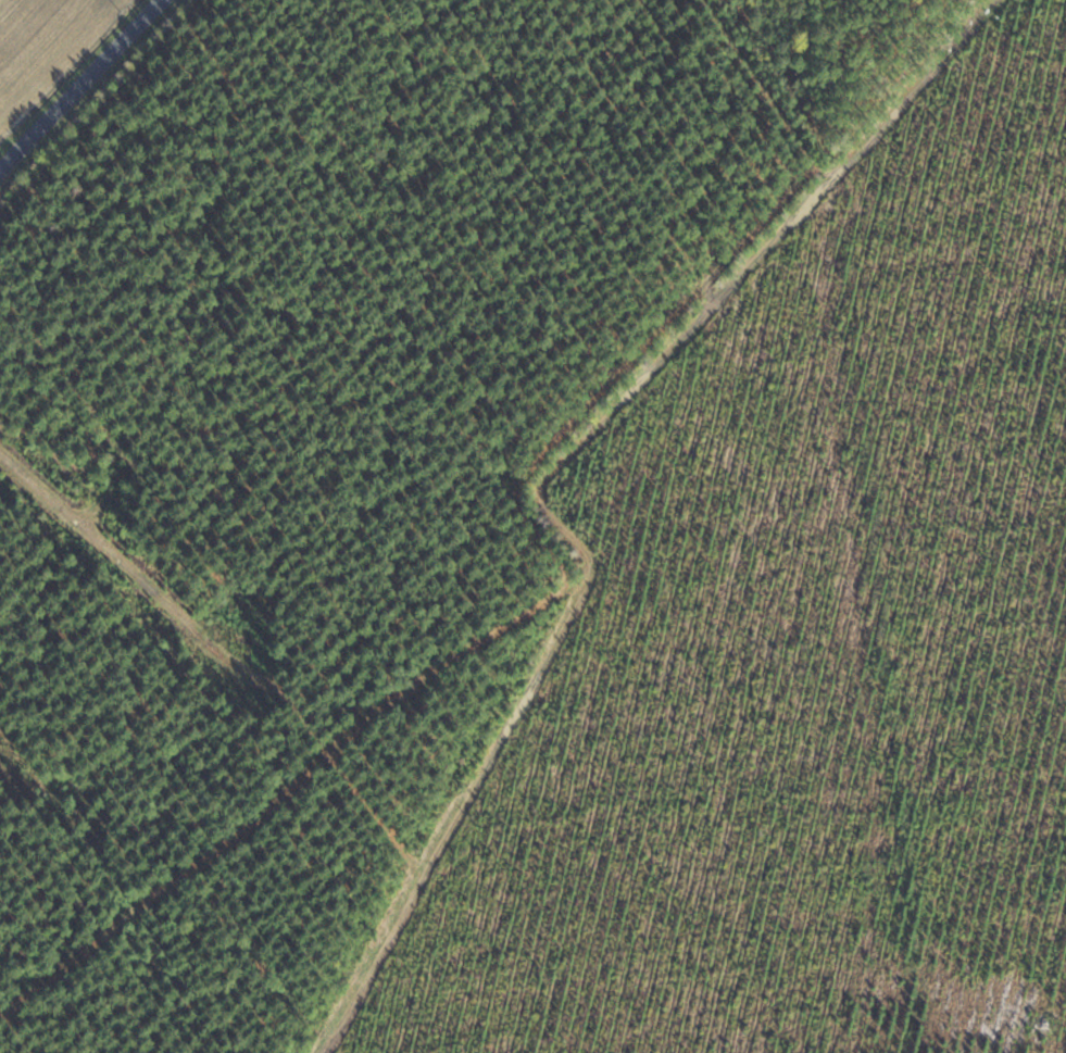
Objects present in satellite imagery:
road: (79, 85)

